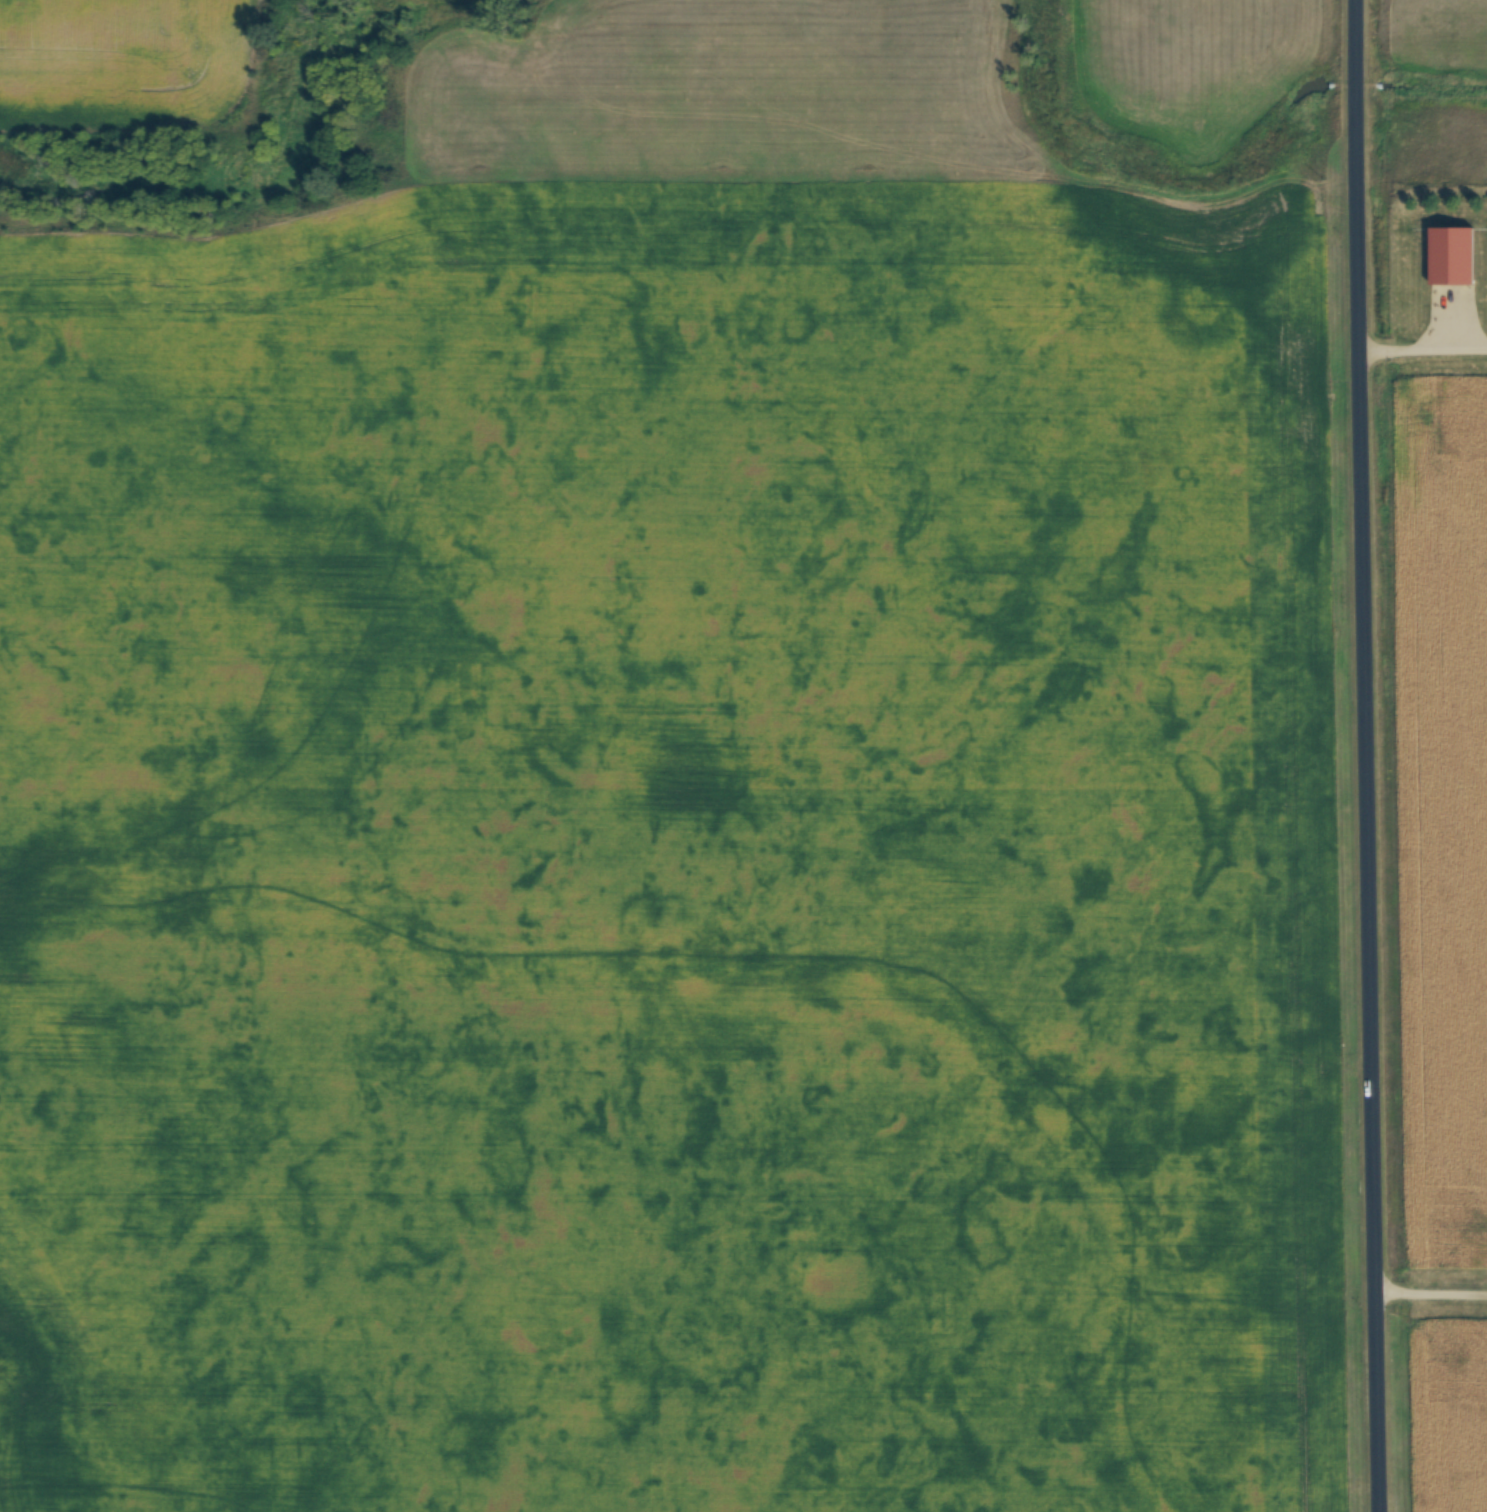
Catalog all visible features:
road: (1422, 353)
road: (1365, 756)
road: (1430, 1294)

